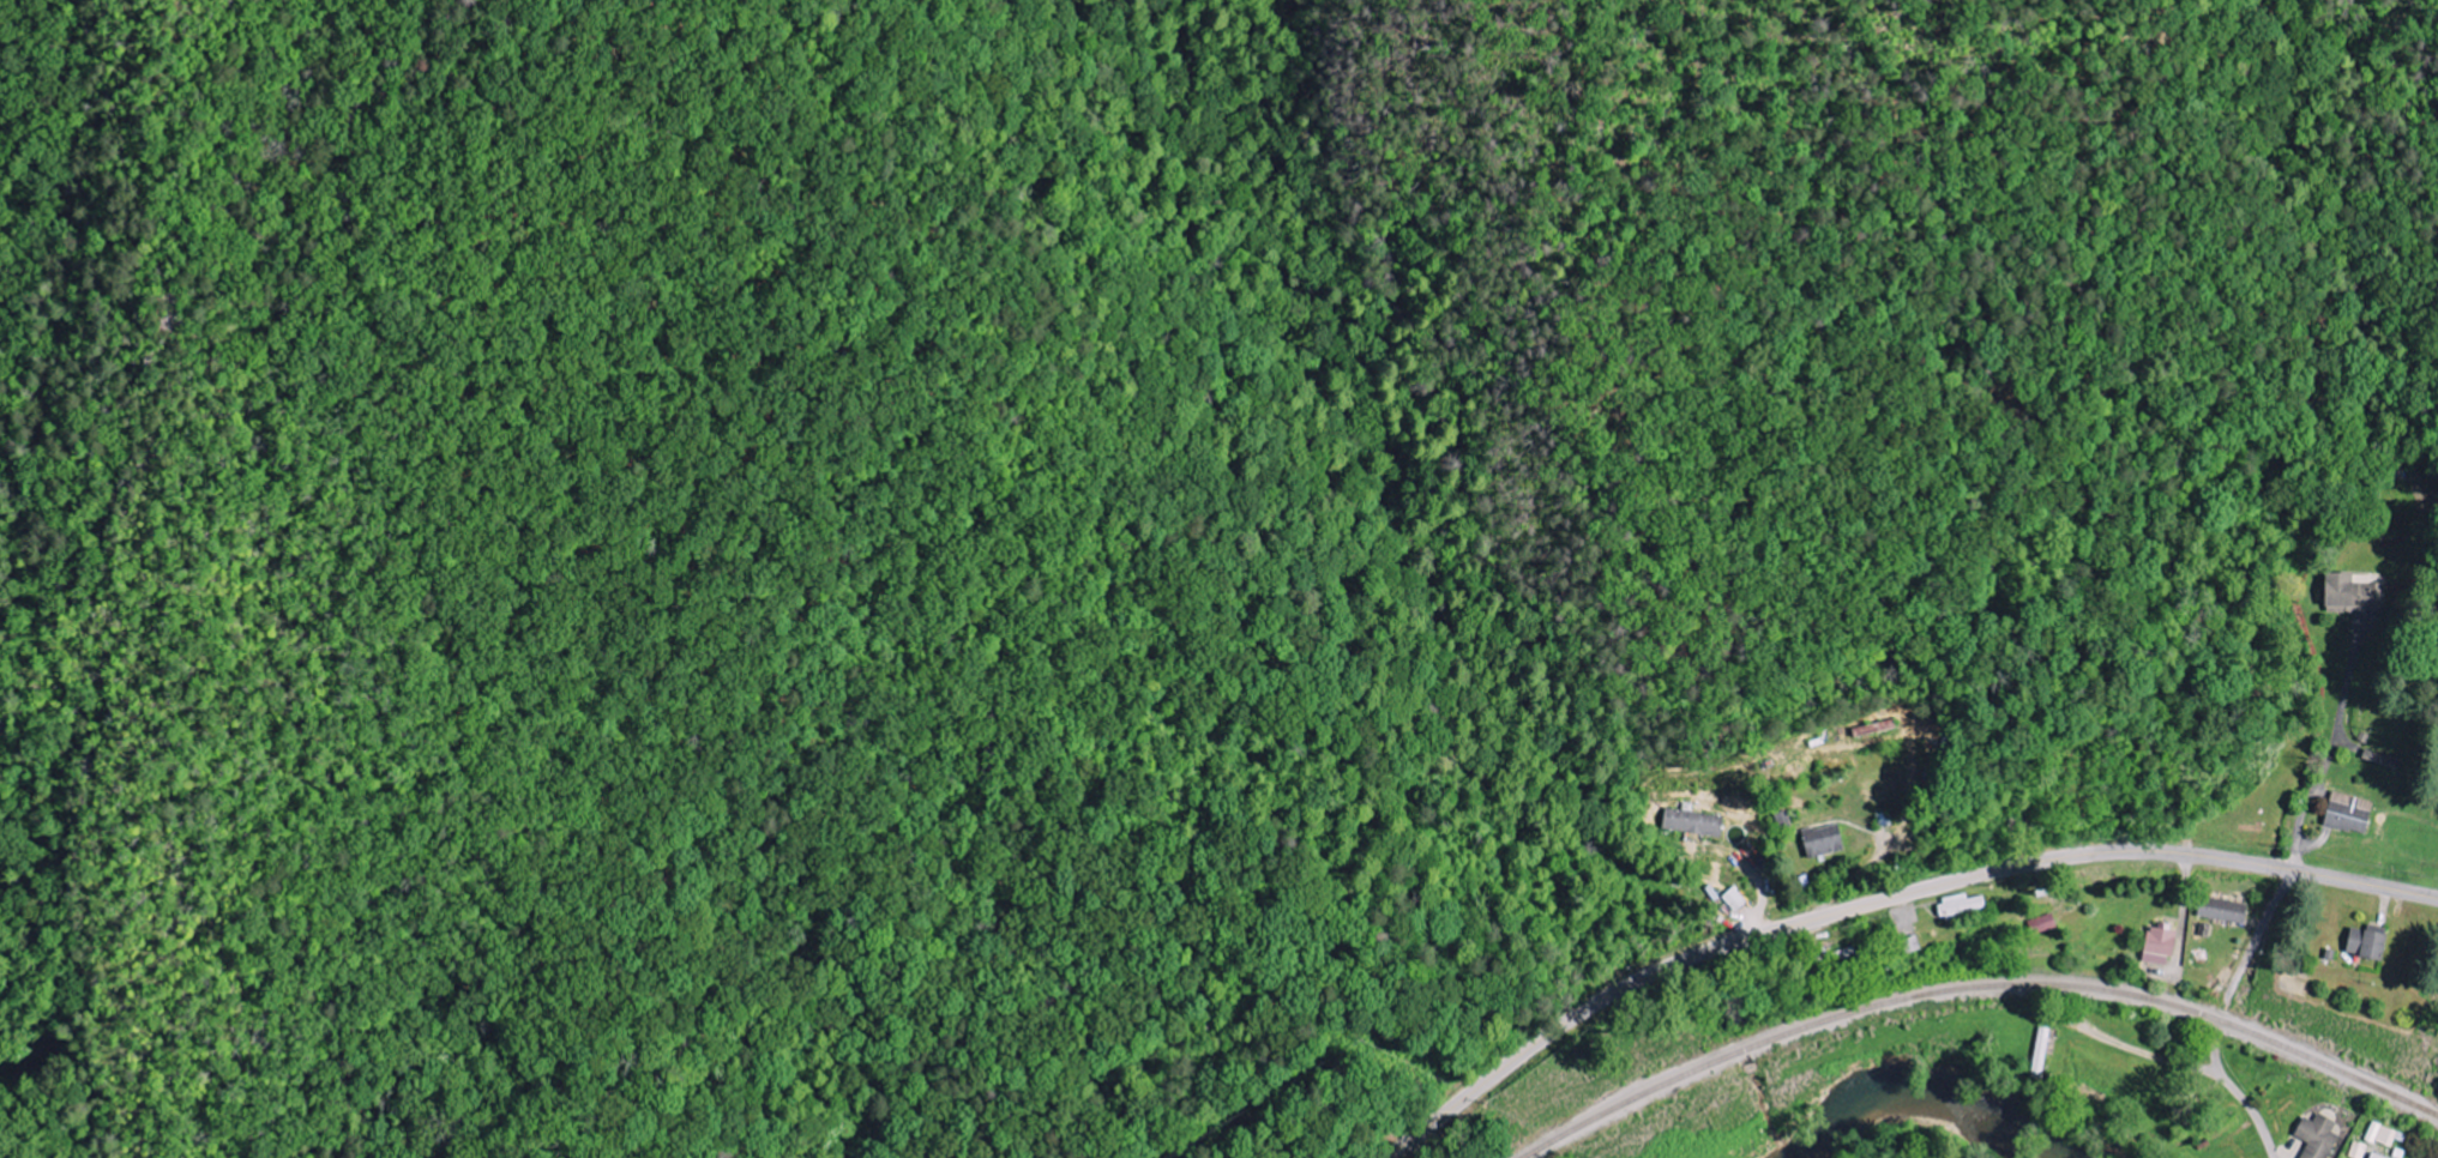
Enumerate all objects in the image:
building: (2352, 595)
road: (2330, 756)
building: (2352, 813)
building: (1696, 822)
building: (1824, 840)
building: (1735, 899)
road: (1884, 900)
building: (1963, 905)
building: (2225, 910)
building: (2043, 924)
road: (2262, 931)
road: (2180, 941)
building: (2371, 942)
building: (2162, 946)
railway: (1978, 985)
road: (1100, 995)
building: (2042, 1053)
river: (1926, 1091)
road: (2250, 1111)
building: (2319, 1136)
building: (2359, 1150)
building: (2377, 1157)

